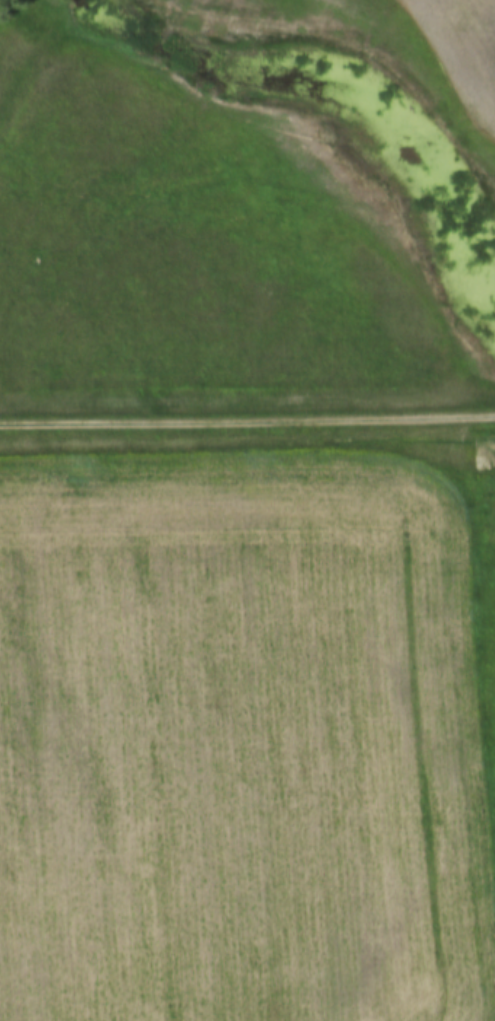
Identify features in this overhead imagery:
road: (247, 422)

